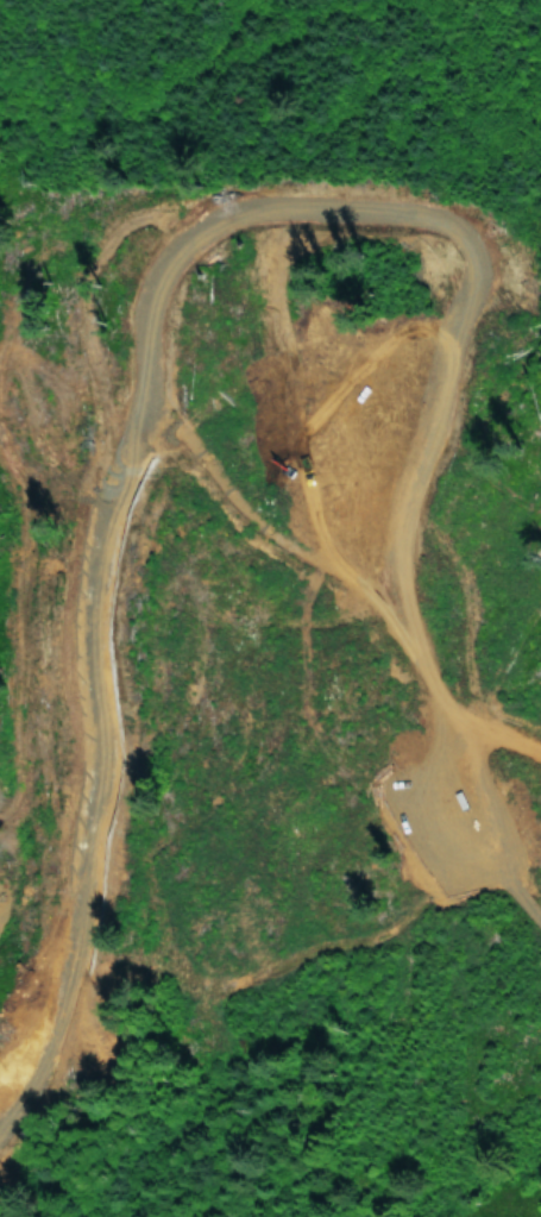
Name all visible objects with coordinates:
road: (225, 209)

